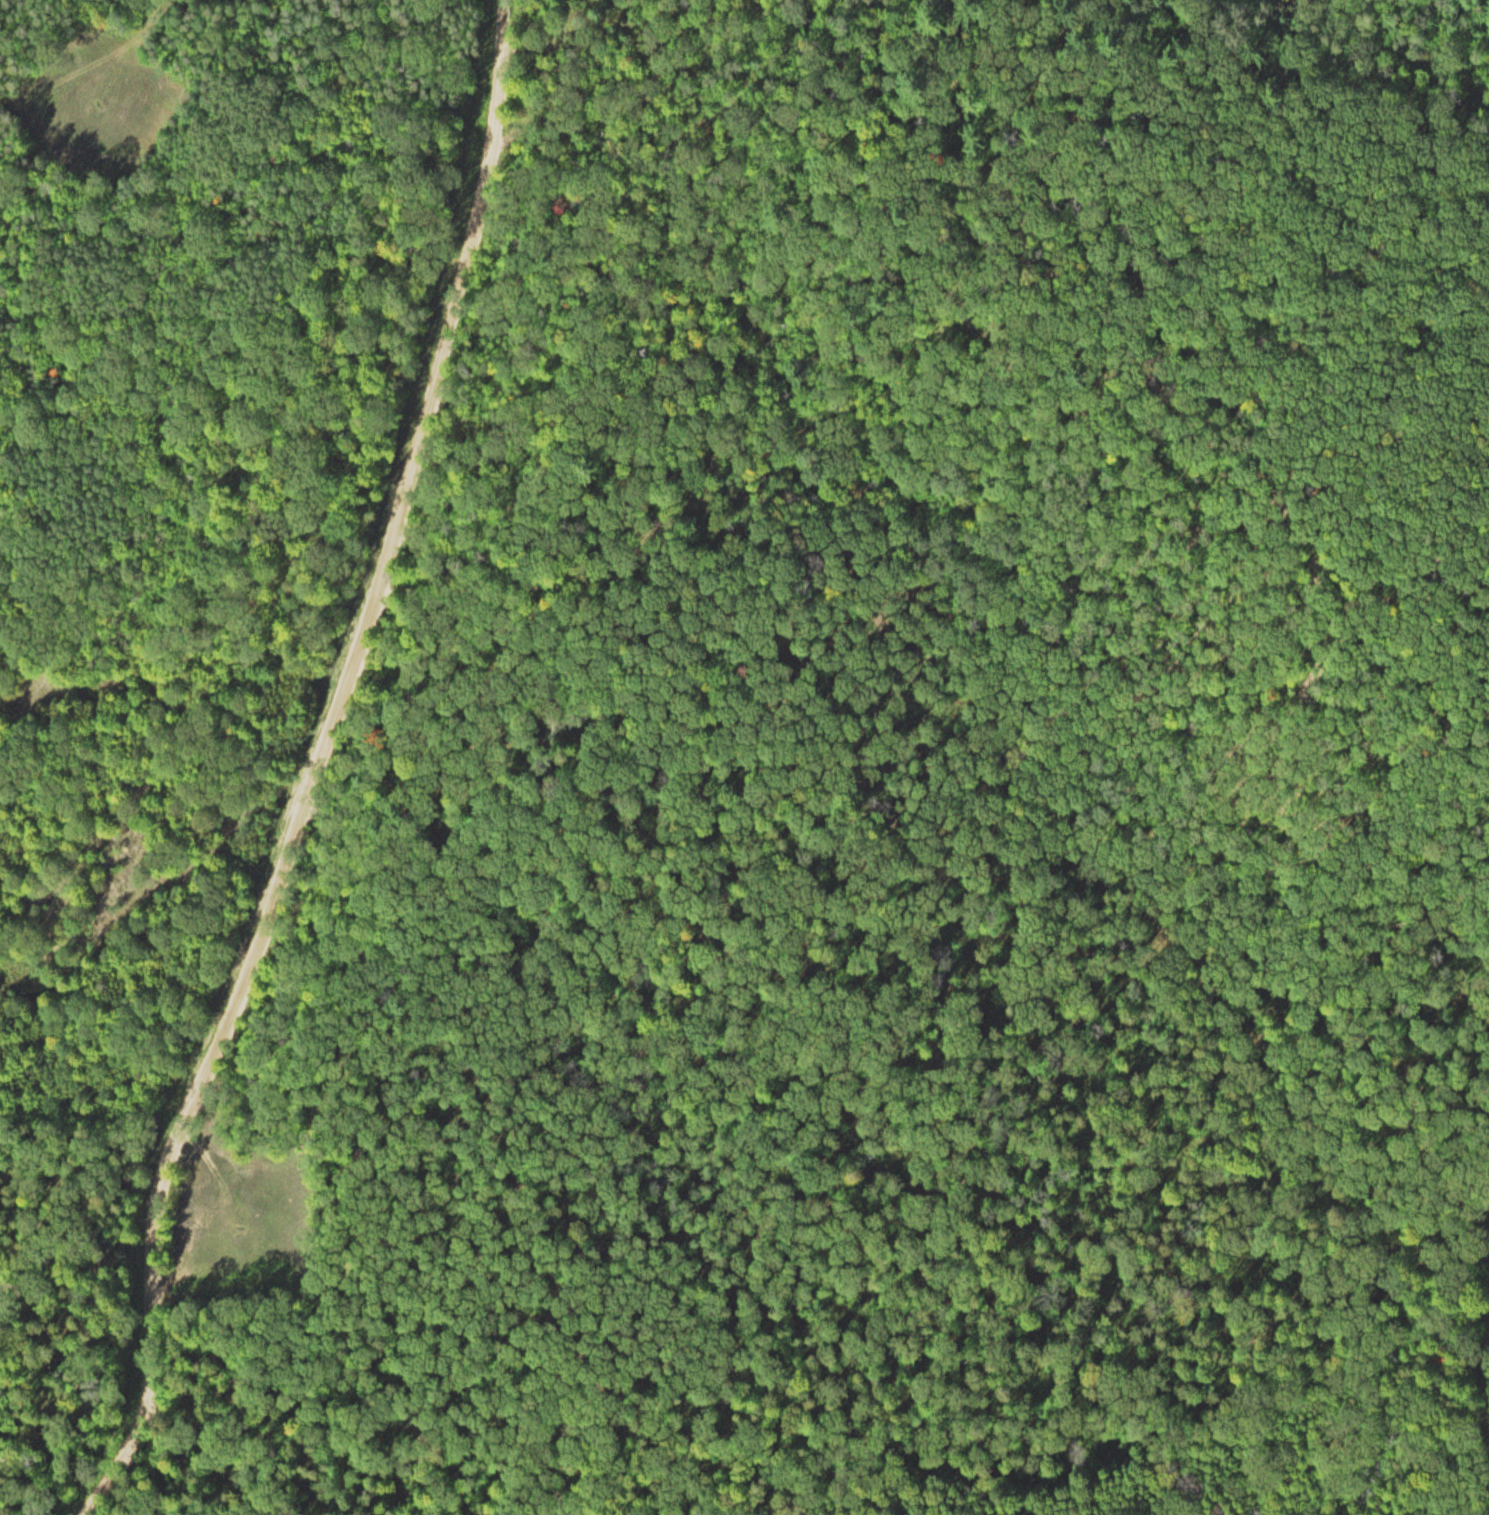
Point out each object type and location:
road: (311, 769)
road: (1479, 1398)

